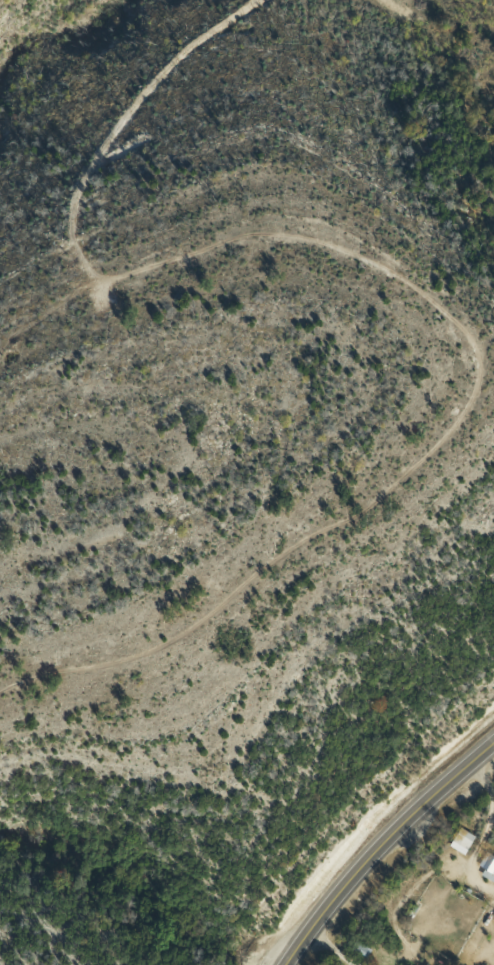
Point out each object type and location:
building: (459, 838)
road: (381, 842)
building: (487, 867)

